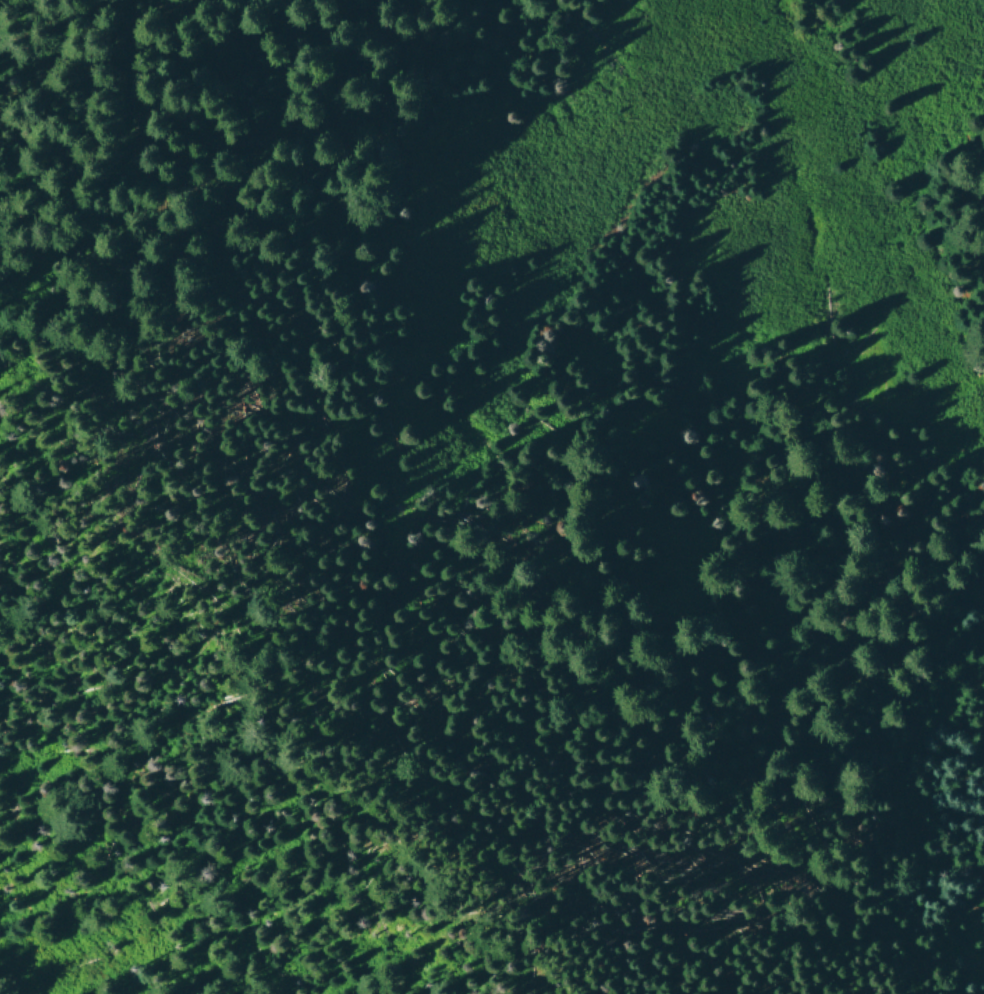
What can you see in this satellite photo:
road: (260, 717)

